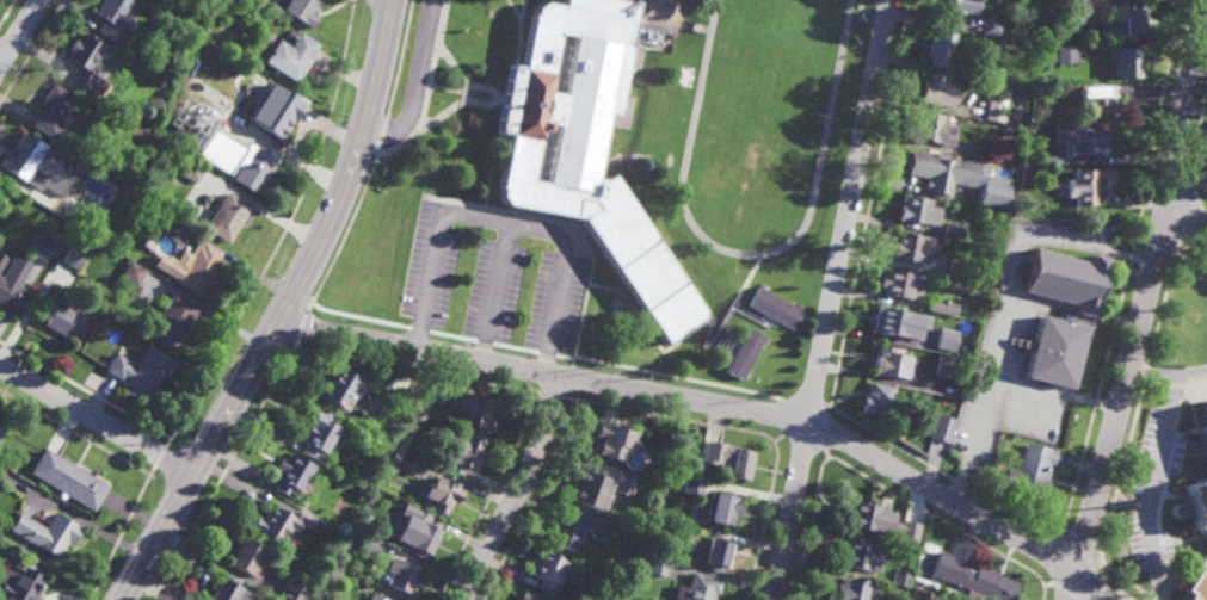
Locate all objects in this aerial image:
building: (1067, 0)
building: (990, 6)
road: (669, 7)
building: (953, 8)
building: (302, 11)
road: (7, 12)
building: (1070, 14)
building: (116, 18)
building: (1123, 24)
building: (992, 27)
road: (20, 33)
road: (515, 45)
road: (14, 47)
building: (940, 49)
road: (32, 52)
building: (1064, 55)
building: (289, 57)
road: (399, 60)
road: (458, 60)
building: (88, 63)
building: (1123, 63)
road: (0, 64)
building: (974, 69)
building: (510, 78)
road: (469, 85)
road: (417, 87)
road: (431, 88)
building: (936, 92)
road: (4, 93)
building: (164, 95)
building: (1102, 98)
park: (763, 101)
road: (449, 103)
road: (1182, 103)
building: (56, 111)
building: (975, 111)
building: (272, 112)
building: (220, 125)
building: (931, 130)
building: (1011, 132)
road: (381, 134)
building: (589, 134)
road: (1197, 134)
track: (689, 138)
building: (1088, 143)
road: (499, 146)
building: (30, 161)
building: (1049, 162)
building: (253, 169)
building: (190, 173)
building: (69, 174)
building: (956, 179)
road: (1199, 185)
building: (1086, 187)
road: (869, 203)
building: (917, 212)
building: (224, 218)
road: (1187, 218)
road: (1184, 221)
building: (161, 222)
road: (499, 222)
road: (584, 224)
road: (344, 231)
building: (952, 231)
road: (282, 233)
building: (49, 241)
road: (1154, 246)
building: (910, 248)
building: (74, 256)
building: (2, 259)
building: (195, 267)
building: (953, 267)
building: (131, 270)
road: (1127, 270)
parking lot: (495, 277)
building: (1063, 277)
building: (904, 282)
building: (11, 292)
road: (495, 292)
road: (833, 299)
road: (1002, 299)
building: (935, 304)
building: (772, 309)
road: (283, 310)
building: (58, 315)
building: (170, 317)
building: (899, 320)
road: (654, 321)
road: (300, 326)
road: (445, 328)
building: (946, 338)
building: (1053, 346)
building: (743, 353)
building: (895, 359)
building: (944, 365)
building: (140, 369)
road: (679, 369)
road: (418, 370)
road: (1166, 371)
building: (339, 385)
road: (84, 389)
road: (1053, 390)
road: (553, 392)
road: (572, 394)
road: (803, 396)
road: (721, 398)
building: (882, 398)
road: (1117, 403)
building: (1206, 403)
road: (786, 406)
building: (473, 408)
building: (405, 412)
road: (689, 412)
road: (94, 419)
building: (1206, 422)
road: (1131, 423)
building: (1, 427)
building: (941, 427)
building: (612, 429)
building: (315, 432)
road: (74, 433)
road: (831, 443)
building: (466, 451)
building: (726, 454)
road: (159, 457)
building: (401, 460)
building: (1029, 468)
road: (227, 469)
building: (290, 472)
road: (942, 474)
building: (69, 477)
building: (624, 482)
building: (692, 483)
road: (1153, 485)
building: (590, 488)
road: (517, 489)
building: (442, 493)
road: (491, 497)
road: (535, 499)
building: (1194, 503)
building: (721, 507)
road: (762, 517)
road: (948, 518)
building: (880, 519)
road: (814, 520)
building: (277, 522)
building: (653, 524)
building: (578, 528)
building: (413, 530)
building: (47, 531)
road: (121, 533)
building: (370, 543)
road: (1076, 549)
building: (712, 551)
building: (858, 552)
building: (245, 555)
road: (1097, 559)
building: (657, 563)
building: (546, 569)
building: (401, 574)
building: (972, 575)
building: (901, 577)
building: (19, 580)
building: (1199, 580)
road: (1095, 581)
building: (364, 582)
road: (1048, 583)
building: (697, 587)
building: (851, 588)
building: (224, 589)
building: (290, 590)
road: (1065, 590)
building: (526, 596)
building: (376, 599)
building: (380, 599)
building: (384, 599)

